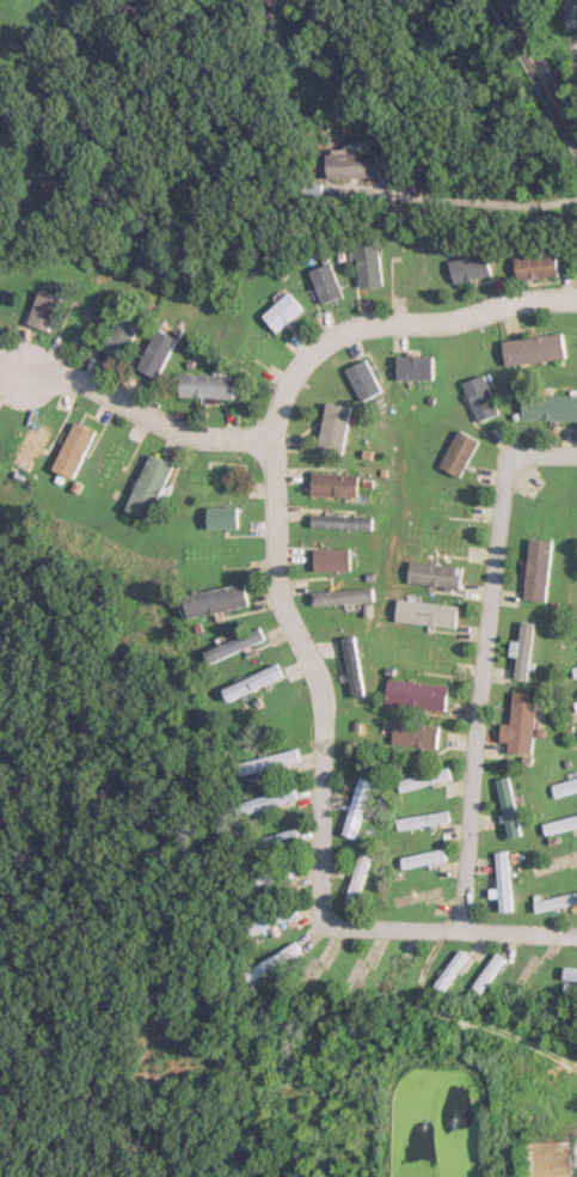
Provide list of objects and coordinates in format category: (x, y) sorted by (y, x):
building: (569, 12)
road: (544, 65)
building: (350, 164)
building: (308, 190)
road: (480, 201)
building: (366, 264)
building: (535, 266)
building: (468, 267)
building: (324, 282)
building: (39, 309)
building: (280, 311)
road: (392, 321)
building: (116, 335)
building: (530, 348)
building: (152, 352)
building: (411, 367)
building: (361, 379)
building: (202, 384)
building: (477, 397)
building: (547, 407)
road: (143, 416)
building: (27, 446)
building: (70, 447)
building: (455, 453)
building: (330, 483)
building: (146, 484)
building: (219, 516)
building: (337, 520)
building: (327, 559)
building: (533, 568)
building: (430, 574)
road: (280, 578)
building: (339, 596)
building: (213, 599)
building: (422, 612)
building: (575, 630)
building: (231, 645)
road: (481, 655)
building: (349, 665)
building: (572, 670)
building: (250, 682)
building: (411, 694)
building: (573, 705)
building: (515, 722)
building: (410, 733)
building: (265, 761)
building: (418, 779)
building: (561, 785)
building: (263, 800)
building: (351, 806)
building: (503, 806)
road: (318, 819)
building: (417, 819)
building: (557, 823)
building: (268, 841)
building: (417, 858)
building: (266, 877)
building: (351, 880)
building: (498, 880)
building: (552, 901)
building: (266, 919)
road: (452, 927)
building: (266, 962)
building: (446, 970)
building: (484, 971)
building: (567, 972)

